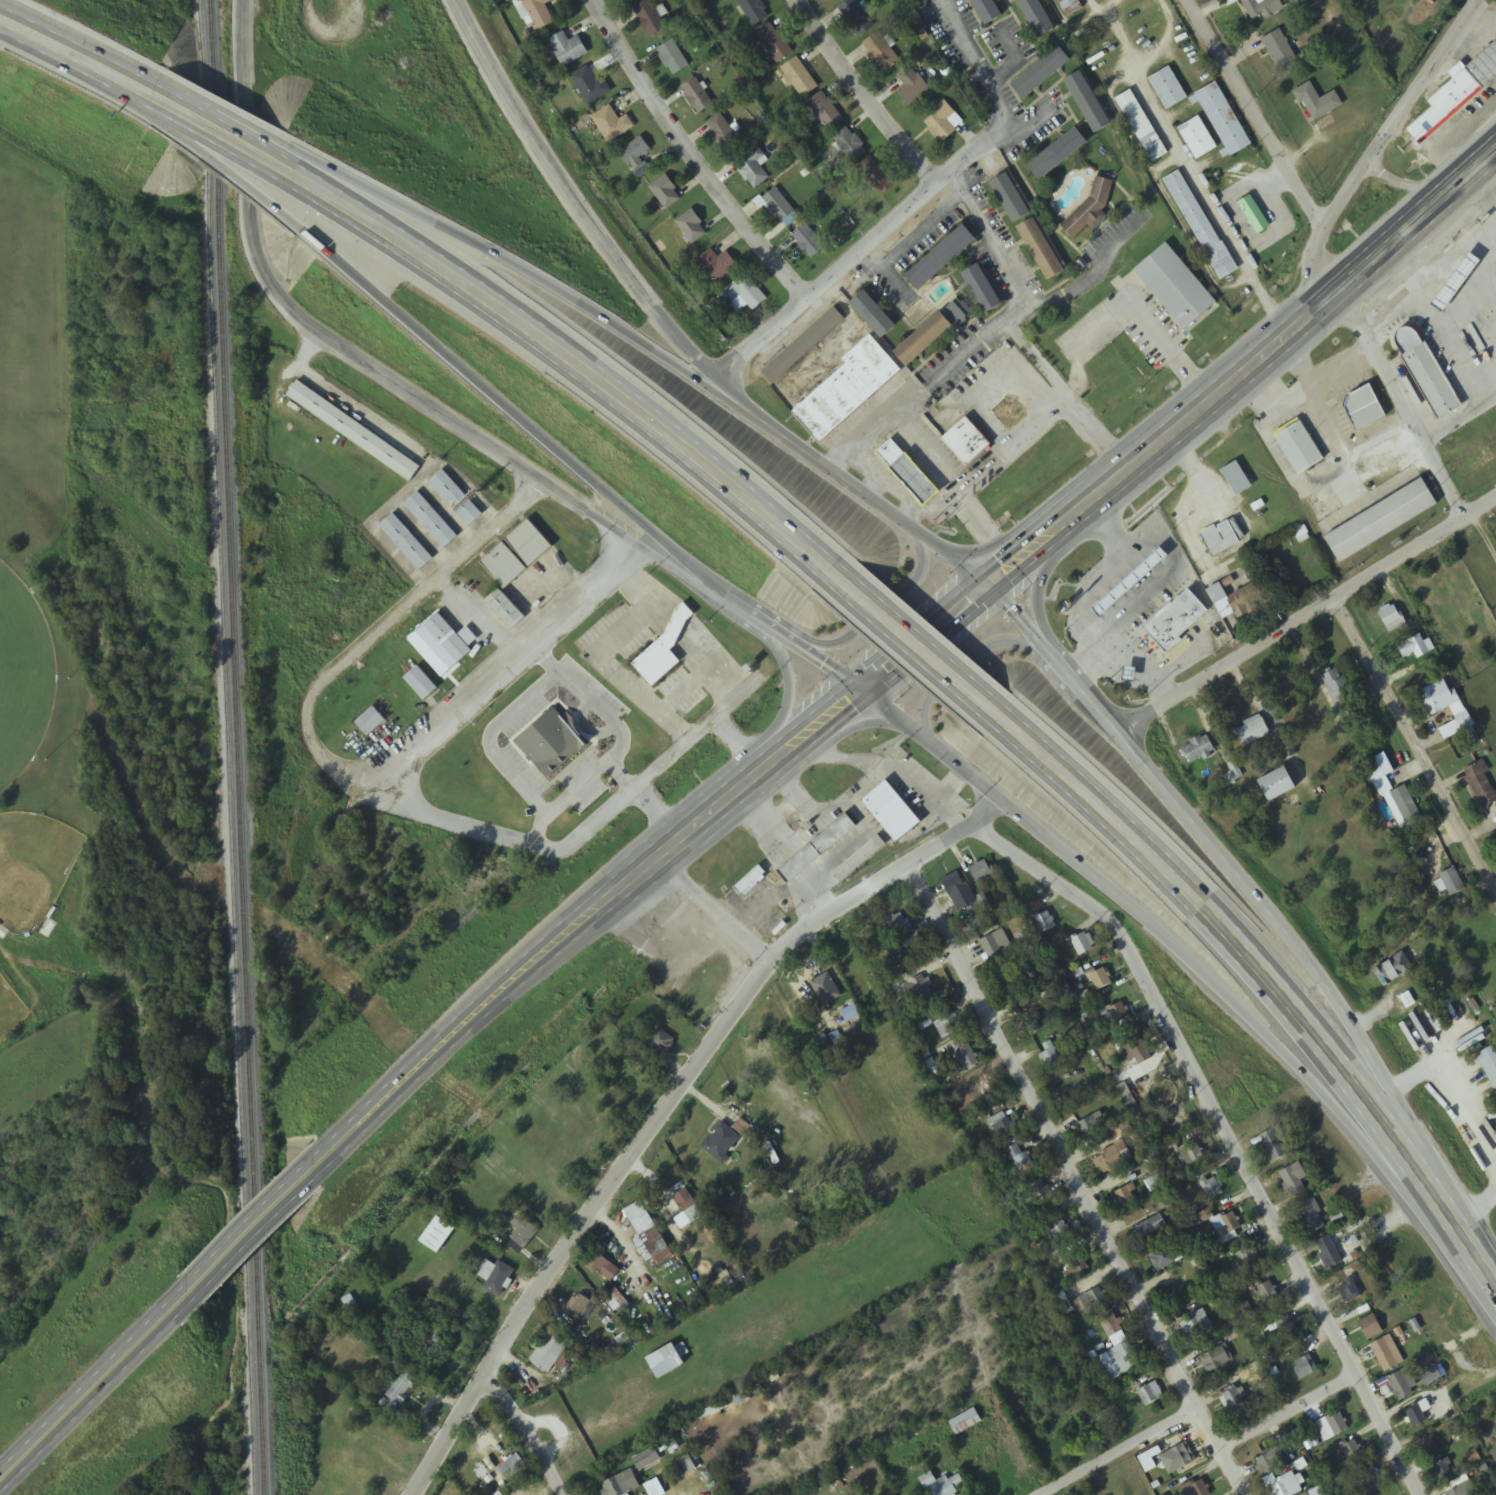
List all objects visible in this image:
building: (626, 0)
building: (832, 0)
building: (1096, 0)
building: (1069, 7)
building: (1261, 8)
building: (753, 11)
building: (988, 11)
building: (539, 13)
building: (856, 18)
building: (1037, 18)
building: (650, 19)
road: (27, 26)
building: (1125, 30)
building: (775, 44)
building: (568, 49)
building: (882, 53)
building: (1281, 53)
building: (673, 58)
road: (111, 60)
building: (1196, 65)
road: (113, 71)
building: (1042, 74)
building: (799, 80)
road: (113, 81)
building: (590, 87)
building: (912, 87)
building: (1168, 89)
road: (874, 95)
building: (1456, 96)
building: (698, 98)
building: (1089, 103)
building: (1318, 103)
road: (228, 111)
building: (825, 112)
building: (1222, 119)
building: (943, 123)
building: (612, 125)
building: (1142, 127)
building: (723, 134)
road: (232, 139)
building: (1198, 139)
road: (1265, 143)
building: (850, 145)
road: (695, 152)
building: (1059, 155)
building: (637, 158)
road: (1362, 161)
building: (752, 168)
road: (236, 176)
building: (876, 177)
building: (665, 193)
road: (576, 198)
building: (1011, 199)
building: (777, 204)
building: (1201, 225)
building: (692, 226)
building: (808, 241)
road: (872, 241)
building: (1042, 250)
building: (942, 257)
building: (719, 265)
building: (1443, 272)
building: (983, 288)
building: (1186, 291)
building: (744, 294)
building: (959, 312)
building: (874, 314)
building: (1422, 320)
building: (925, 339)
road: (648, 345)
building: (804, 346)
road: (576, 361)
road: (365, 366)
road: (1240, 373)
building: (1430, 380)
building: (848, 389)
road: (1405, 401)
building: (1366, 407)
road: (509, 409)
building: (1005, 409)
building: (353, 432)
building: (966, 441)
building: (1300, 447)
building: (1476, 460)
building: (906, 470)
building: (1237, 479)
building: (456, 498)
building: (431, 520)
building: (1382, 521)
building: (1220, 539)
building: (406, 542)
building: (529, 543)
road: (996, 547)
building: (504, 566)
traffic signals: (984, 586)
building: (1141, 588)
gas station: (1141, 588)
road: (1043, 591)
building: (1136, 593)
building: (1239, 598)
road: (405, 605)
building: (505, 609)
building: (1392, 618)
road: (1309, 619)
building: (1100, 623)
building: (1187, 626)
road: (919, 636)
road: (786, 638)
building: (448, 639)
road: (845, 641)
park: (93, 642)
road: (921, 648)
building: (1414, 648)
road: (964, 663)
building: (667, 668)
building: (421, 684)
traffic signals: (854, 686)
road: (480, 690)
building: (1339, 693)
building: (1440, 699)
road: (782, 710)
building: (370, 722)
road: (846, 723)
building: (1451, 730)
building: (1253, 732)
road: (898, 741)
road: (1417, 746)
railway: (228, 747)
railway: (237, 747)
building: (1198, 750)
building: (561, 755)
road: (880, 763)
building: (1380, 773)
building: (1278, 785)
building: (1481, 785)
road: (947, 786)
road: (855, 793)
building: (1404, 808)
building: (891, 811)
building: (816, 848)
road: (821, 858)
building: (858, 858)
building: (981, 872)
building: (749, 880)
building: (1450, 884)
road: (1247, 886)
building: (958, 893)
road: (813, 896)
road: (712, 910)
road: (590, 911)
building: (1042, 918)
building: (903, 927)
road: (1168, 939)
building: (873, 940)
building: (1083, 943)
building: (997, 950)
road: (1247, 956)
building: (1394, 970)
building: (1101, 980)
building: (870, 981)
building: (1015, 990)
building: (825, 991)
building: (916, 995)
building: (1115, 1015)
building: (948, 1027)
building: (1034, 1028)
building: (662, 1043)
building: (1135, 1046)
building: (964, 1055)
building: (1051, 1057)
building: (1489, 1064)
building: (985, 1090)
road: (664, 1108)
building: (1002, 1127)
building: (1090, 1127)
road: (1223, 1132)
building: (722, 1144)
building: (1274, 1146)
building: (1191, 1156)
building: (1020, 1159)
building: (1104, 1165)
road: (1073, 1180)
building: (1295, 1181)
building: (1211, 1189)
building: (1040, 1194)
building: (1125, 1198)
building: (685, 1201)
building: (1312, 1217)
road: (265, 1221)
building: (1228, 1223)
building: (1149, 1227)
building: (1057, 1232)
building: (438, 1236)
building: (518, 1237)
building: (648, 1237)
building: (1329, 1253)
building: (1161, 1257)
road: (1474, 1259)
building: (1250, 1260)
building: (1077, 1266)
building: (605, 1269)
building: (495, 1277)
building: (1267, 1292)
building: (1351, 1293)
building: (1093, 1301)
building: (1063, 1304)
building: (581, 1307)
building: (1110, 1324)
building: (1196, 1325)
building: (1285, 1327)
building: (1371, 1327)
building: (549, 1354)
building: (1387, 1354)
building: (1217, 1359)
building: (666, 1362)
building: (1118, 1363)
building: (1305, 1368)
building: (1403, 1385)
road: (96, 1388)
building: (399, 1393)
building: (1150, 1394)
building: (1233, 1399)
building: (1416, 1416)
road: (1287, 1418)
building: (965, 1423)
building: (1332, 1427)
road: (523, 1433)
building: (1431, 1446)
building: (1353, 1452)
road: (1121, 1454)
building: (1473, 1458)
building: (646, 1459)
building: (1178, 1459)
building: (1267, 1464)
building: (686, 1467)
building: (512, 1468)
building: (1443, 1472)
building: (1371, 1478)
building: (942, 1485)
building: (619, 1486)
building: (1286, 1486)
building: (1194, 1489)
building: (1455, 1492)

